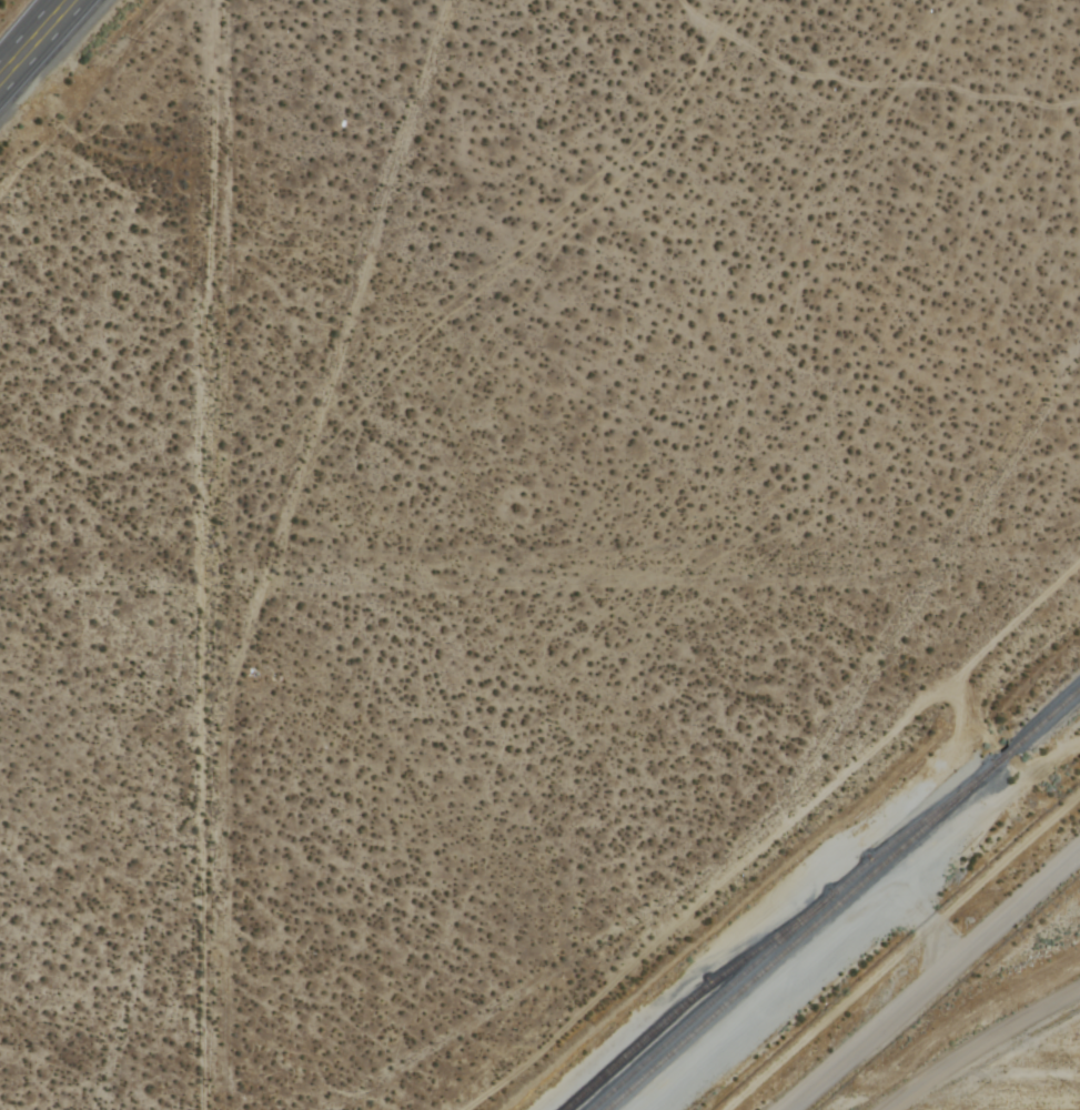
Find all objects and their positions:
road: (29, 32)
road: (51, 58)
road: (200, 554)
railway: (847, 900)
railway: (790, 937)
road: (931, 980)
railway: (699, 995)
airport: (956, 999)
road: (976, 1041)

